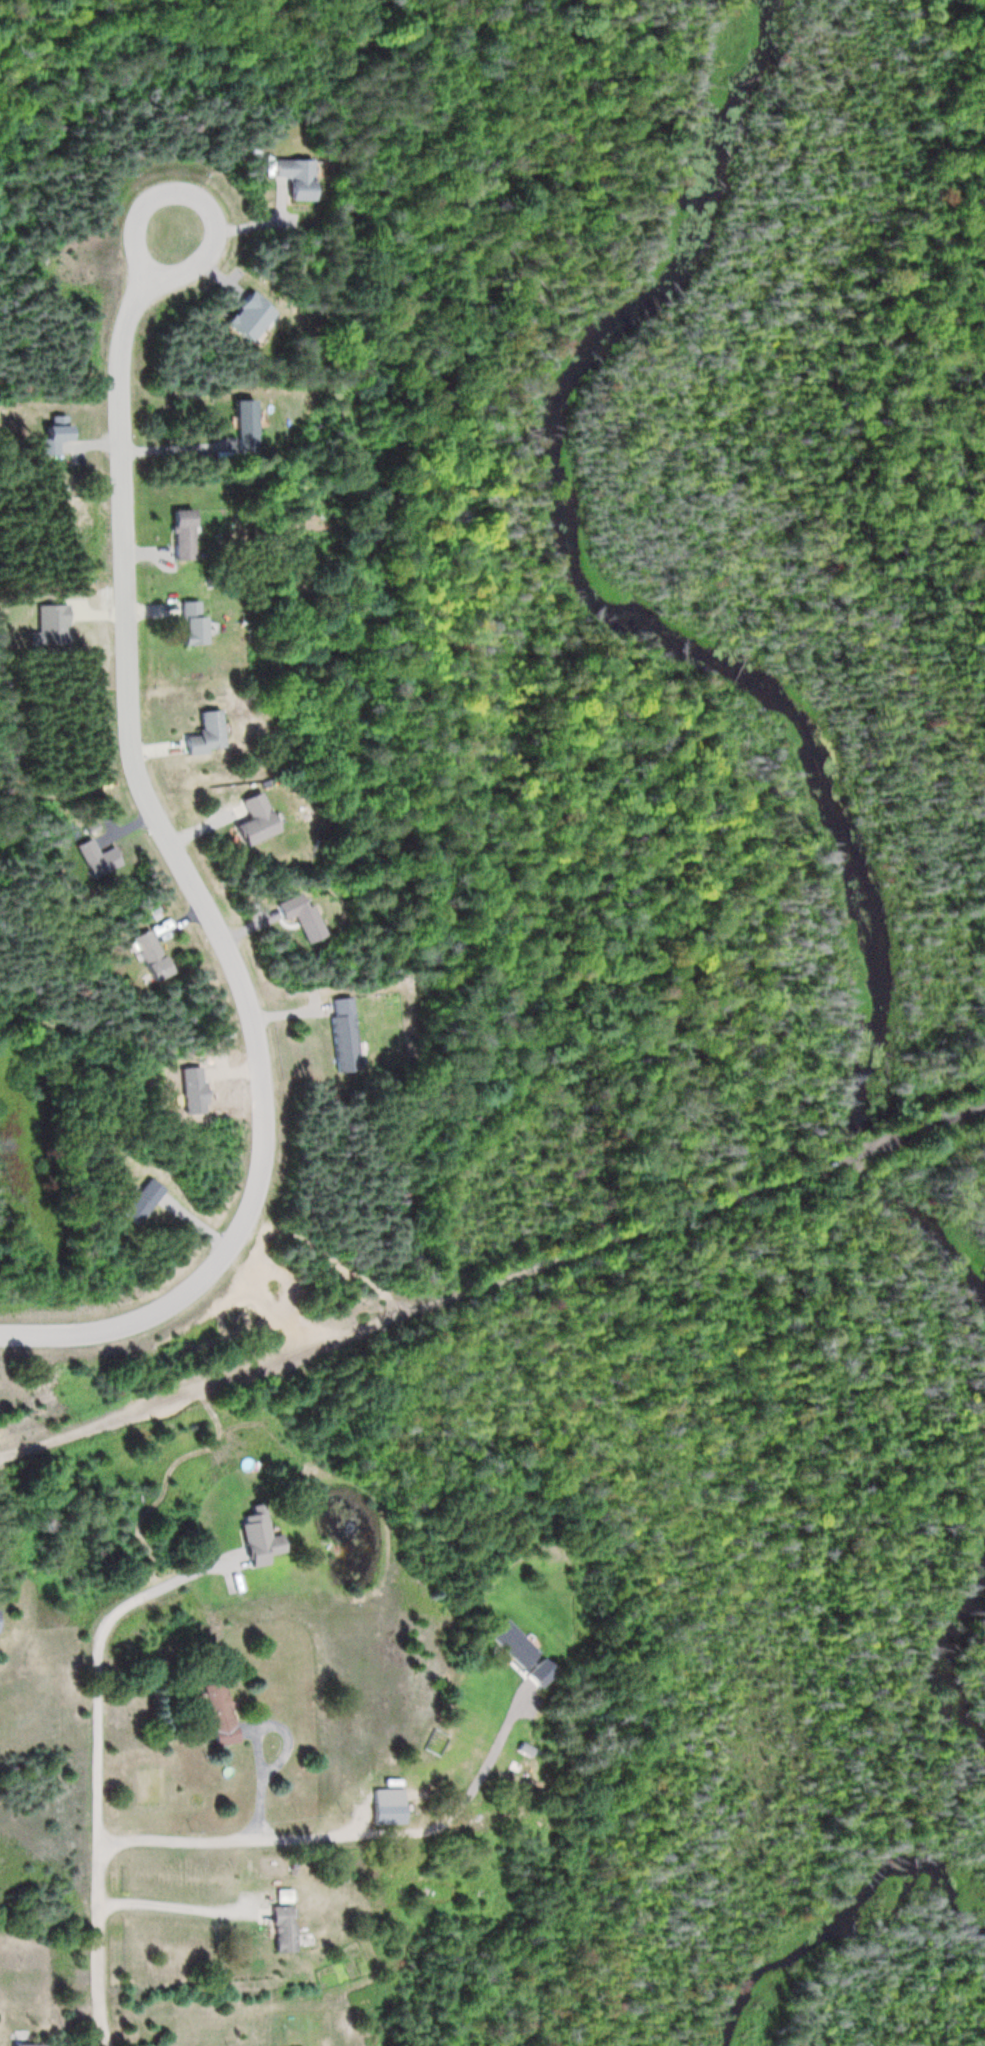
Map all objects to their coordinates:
building: (294, 177)
road: (187, 193)
building: (237, 425)
building: (172, 535)
building: (180, 622)
building: (196, 733)
building: (243, 820)
road: (190, 883)
building: (337, 1034)
road: (329, 1261)
road: (492, 1289)
building: (250, 1538)
road: (96, 1661)
building: (213, 1713)
road: (258, 1784)
building: (384, 1812)
road: (220, 1839)
building: (275, 1928)
road: (97, 1944)
building: (20, 2044)

